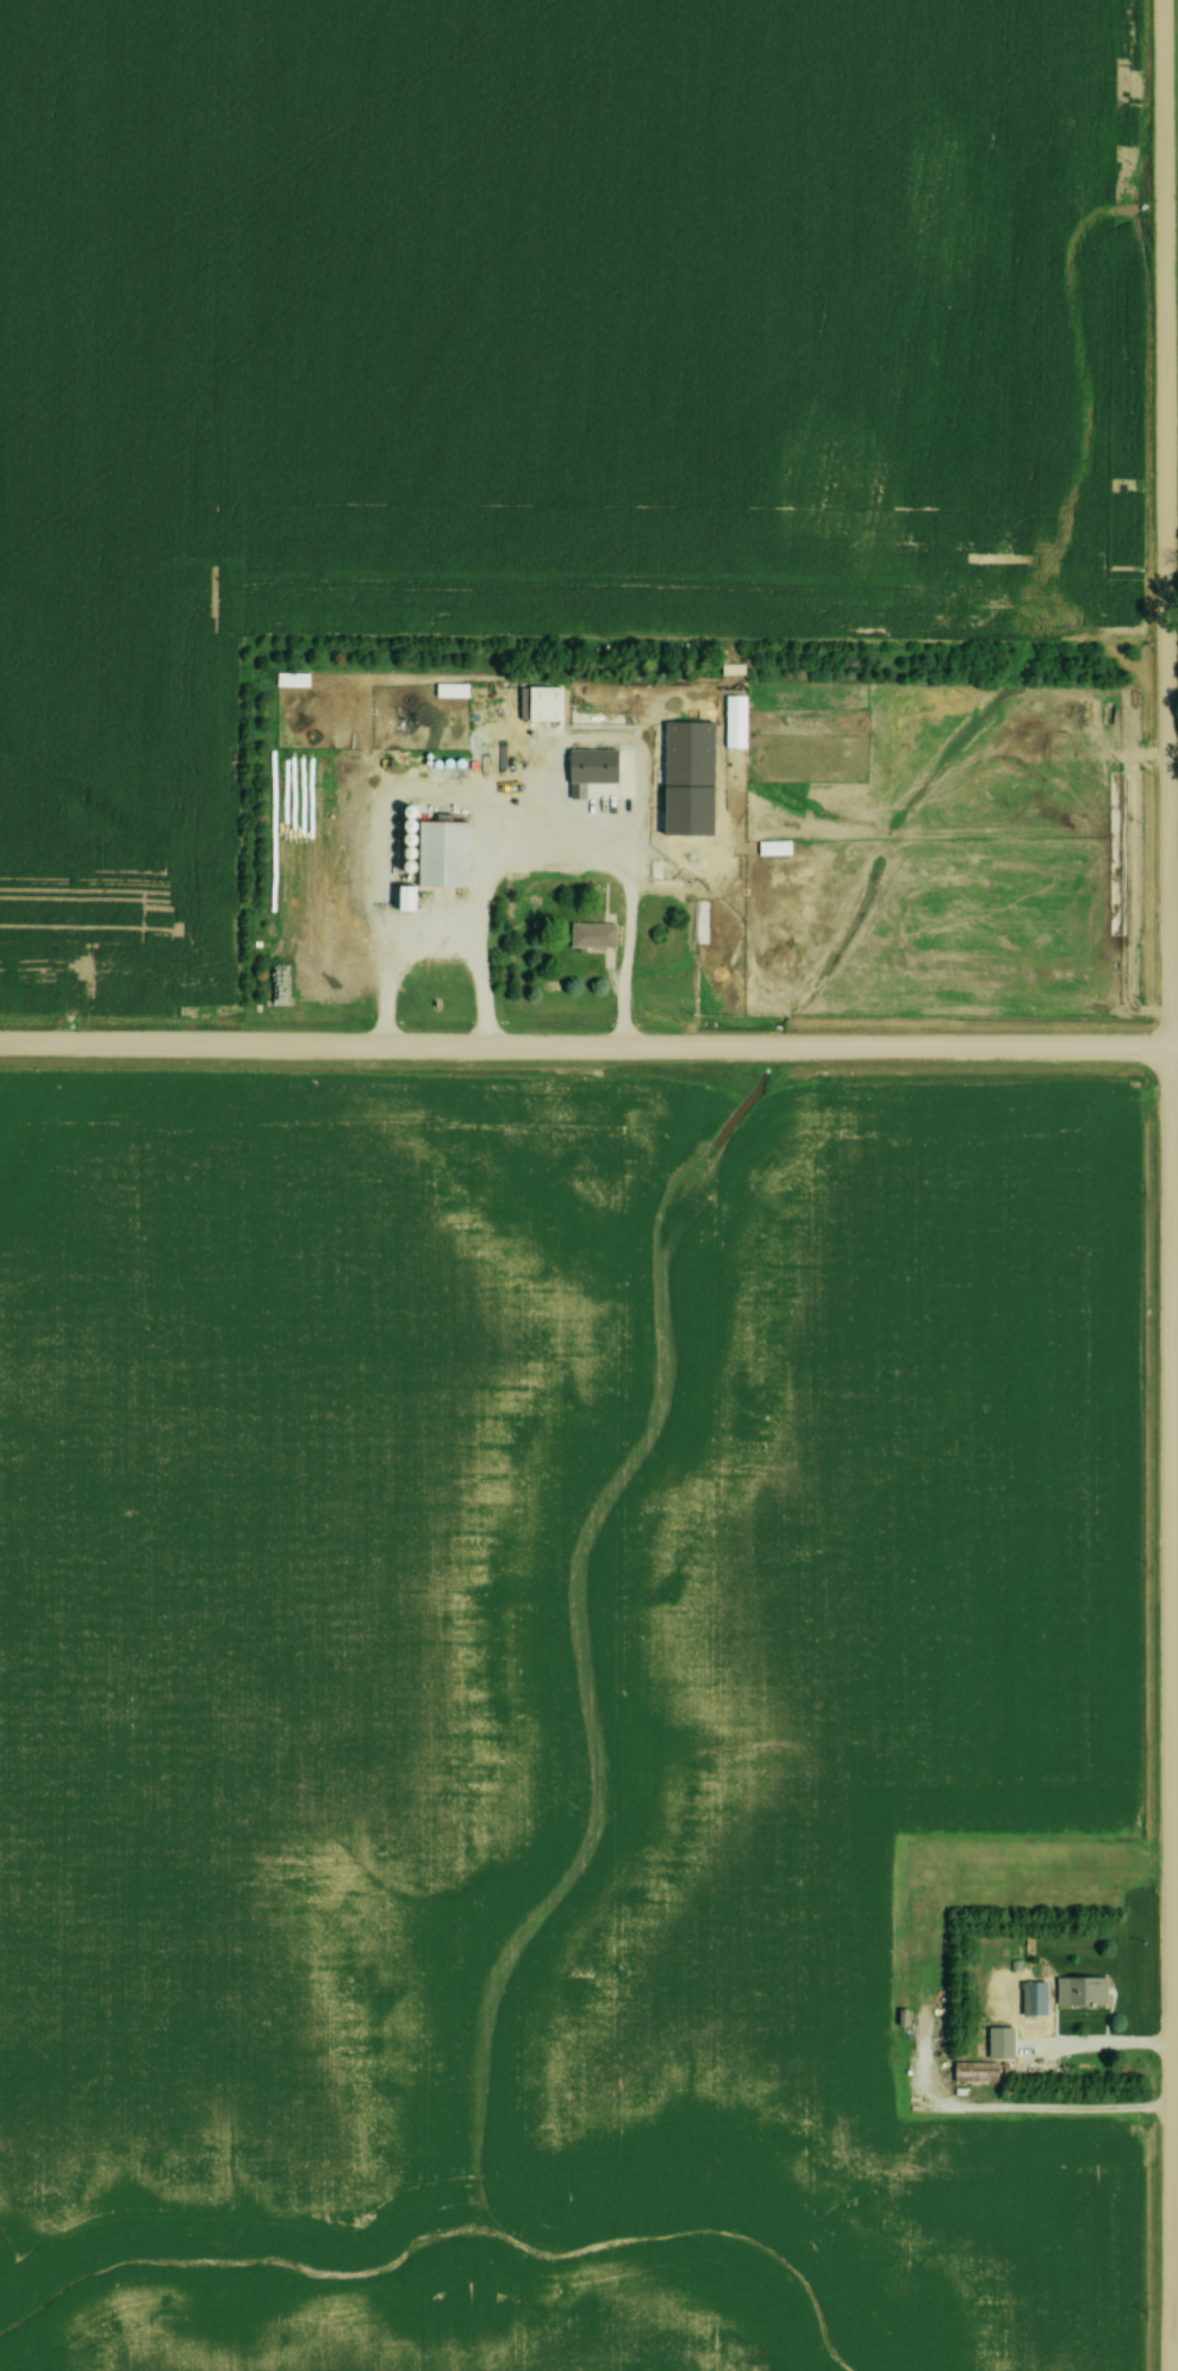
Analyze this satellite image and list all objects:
building: (289, 682)
building: (449, 692)
building: (741, 717)
building: (598, 763)
building: (674, 788)
building: (447, 848)
building: (771, 850)
road: (1170, 922)
building: (590, 936)
road: (618, 966)
road: (588, 1053)
road: (1163, 1184)
building: (1079, 1991)
building: (1022, 2011)
building: (1004, 2039)
building: (972, 2073)

